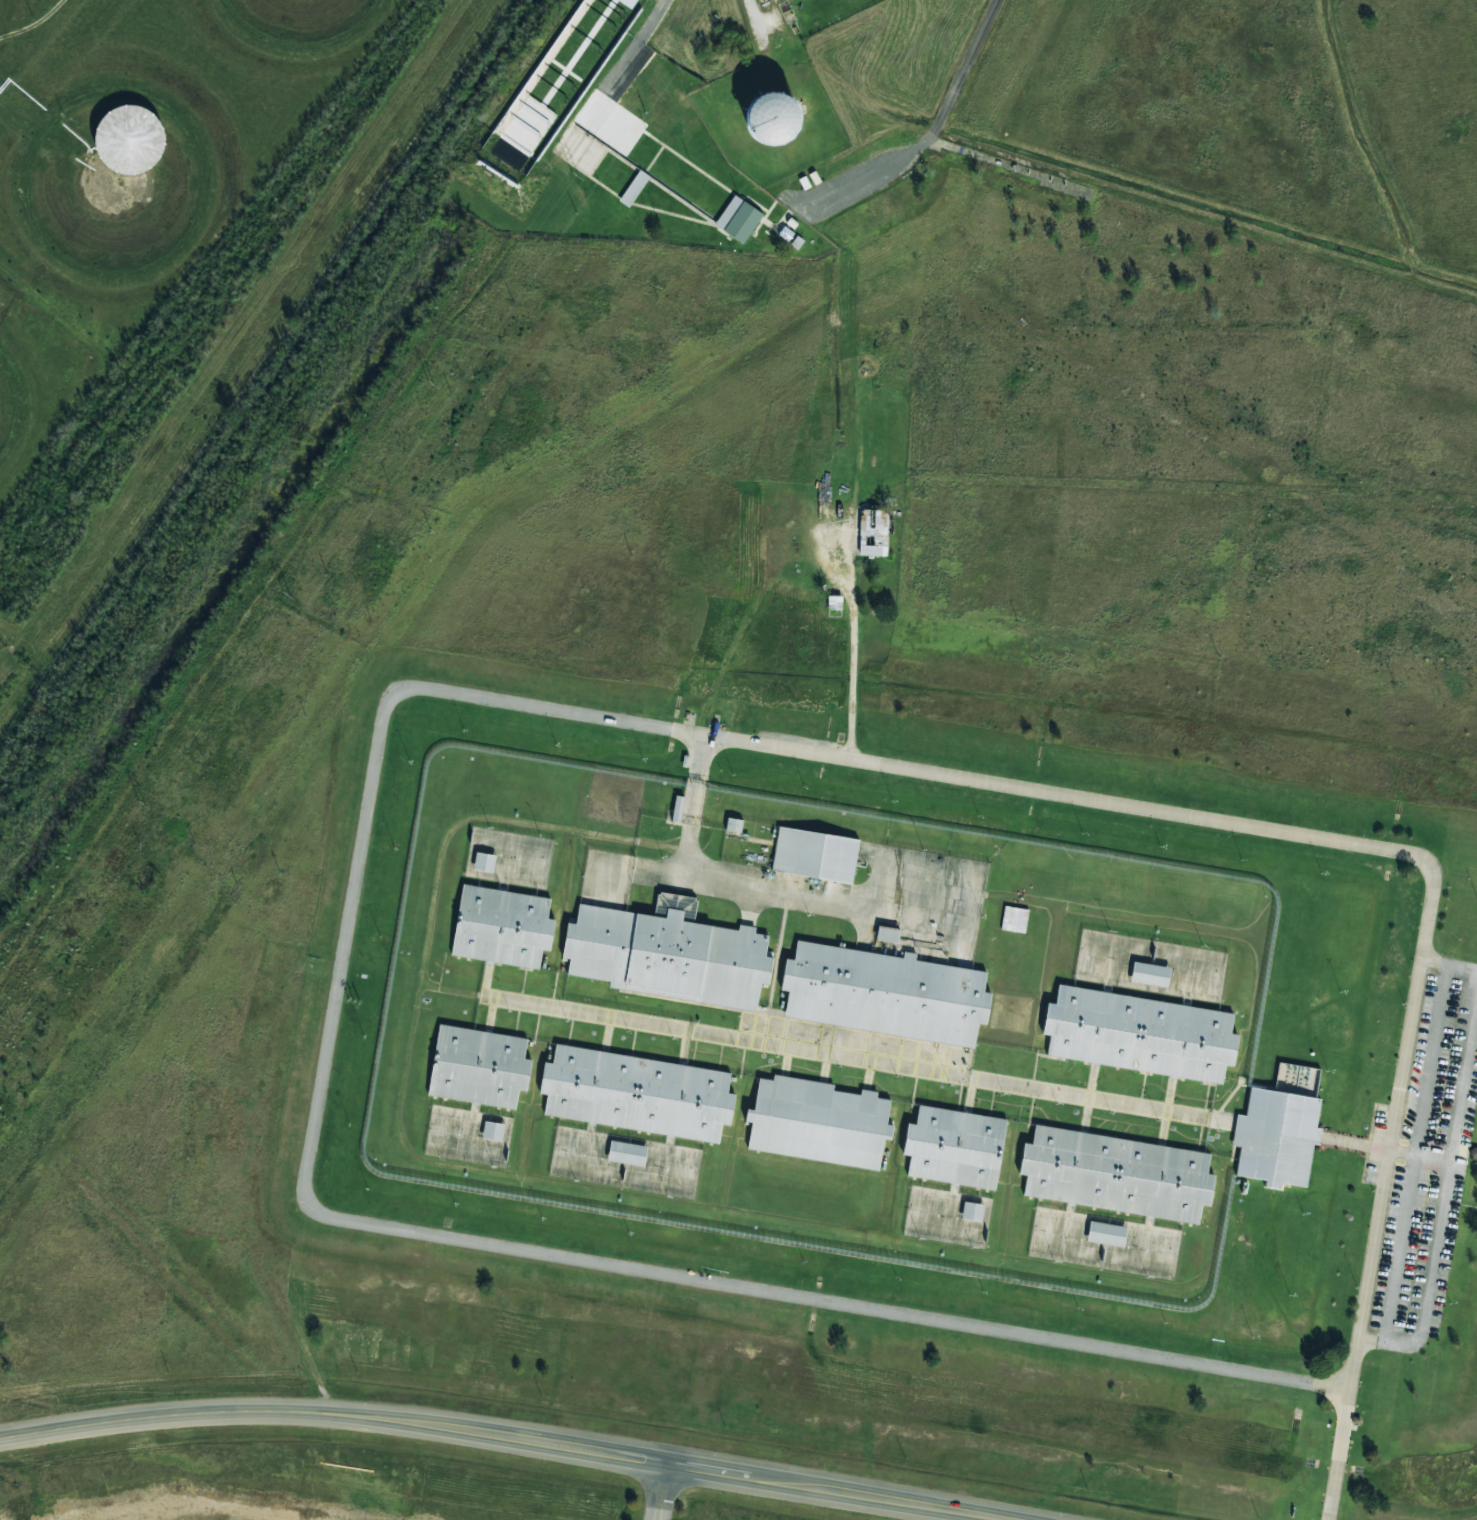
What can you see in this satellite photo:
road: (34, 24)
road: (757, 30)
road: (635, 45)
building: (771, 119)
road: (932, 134)
building: (130, 139)
building: (161, 175)
storage tank: (161, 175)
power tower: (574, 175)
building: (634, 188)
building: (738, 219)
power tower: (430, 383)
building: (874, 532)
power tower: (286, 593)
power tower: (141, 803)
building: (678, 808)
building: (734, 824)
building: (815, 855)
building: (484, 863)
building: (1014, 919)
building: (502, 927)
building: (887, 934)
building: (668, 953)
building: (1149, 974)
building: (884, 993)
building: (1139, 1034)
building: (479, 1067)
building: (637, 1093)
building: (818, 1122)
building: (493, 1131)
building: (1279, 1131)
building: (954, 1147)
building: (627, 1153)
parking lot: (1421, 1162)
building: (1116, 1174)
building: (972, 1211)
building: (1106, 1233)
road: (1362, 1315)
road: (496, 1438)
road: (660, 1493)

